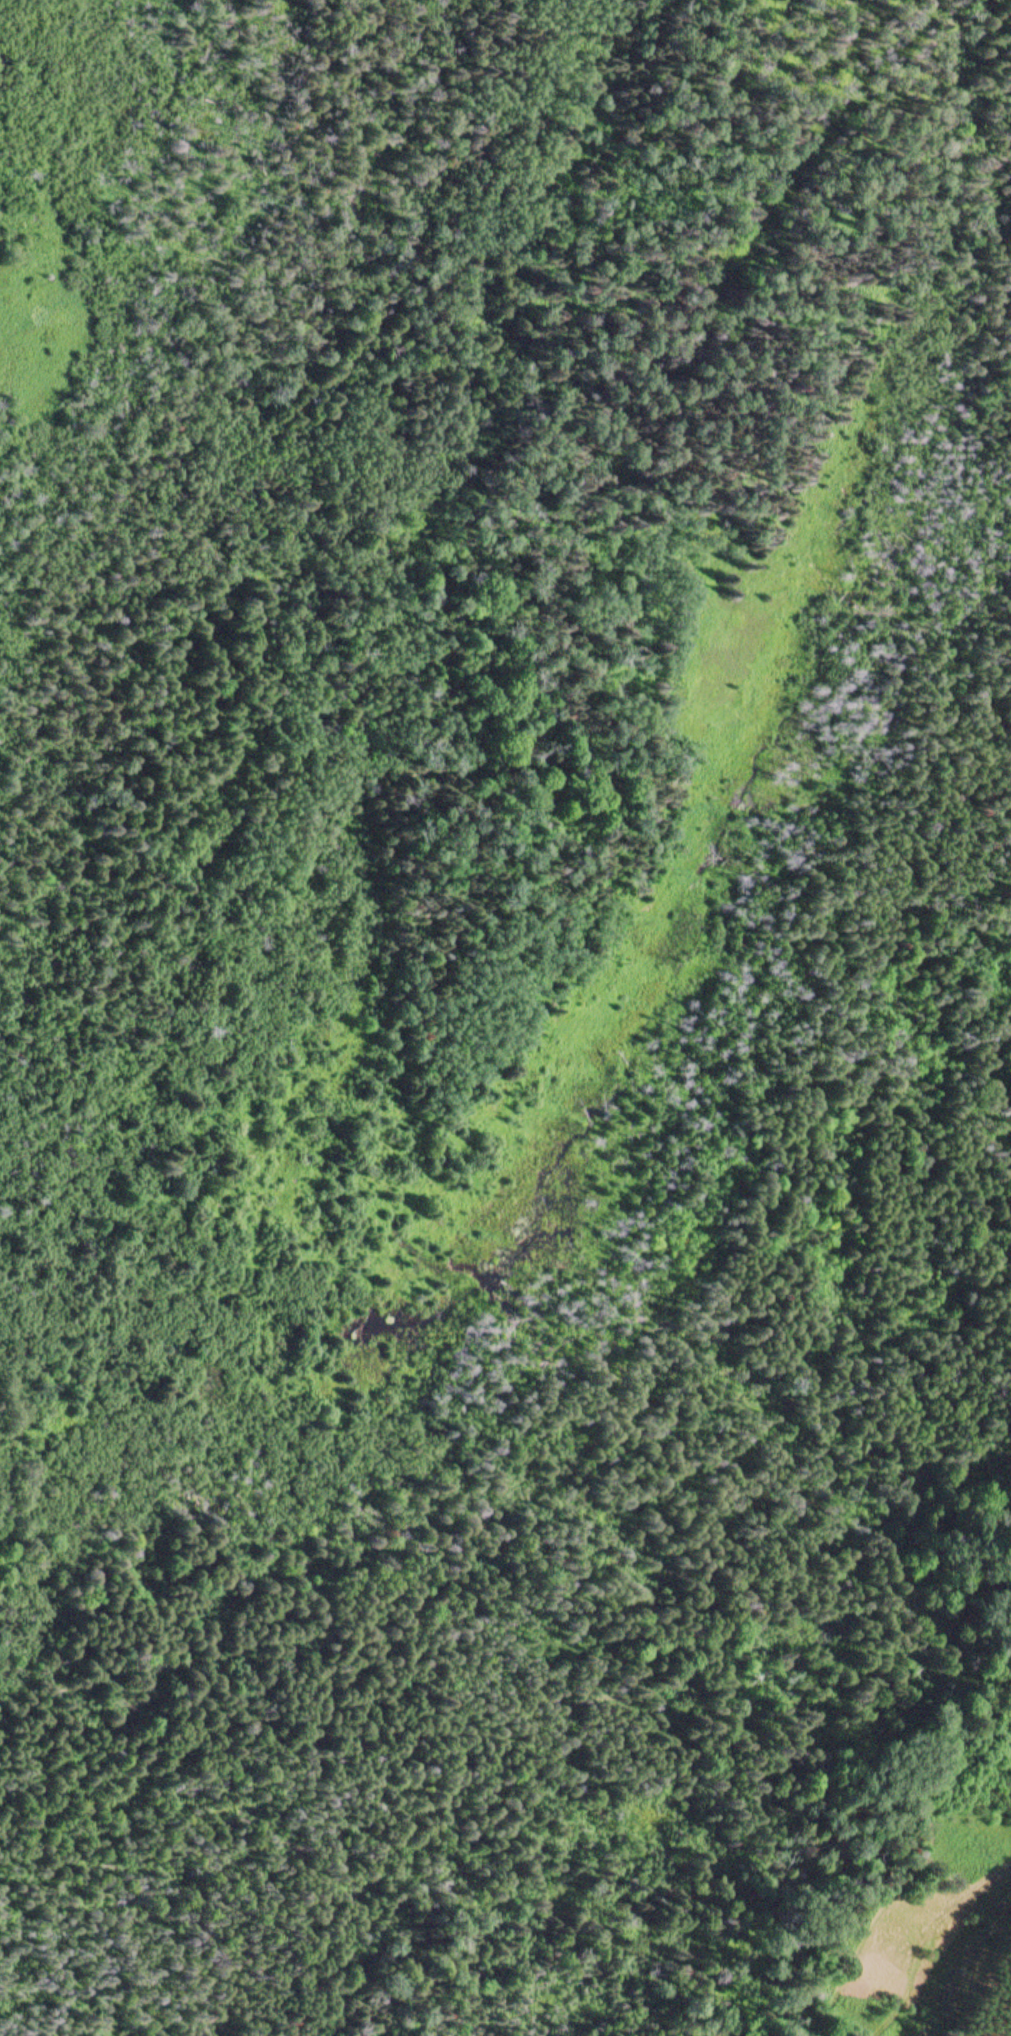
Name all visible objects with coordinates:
road: (1010, 1580)
road: (915, 1854)

